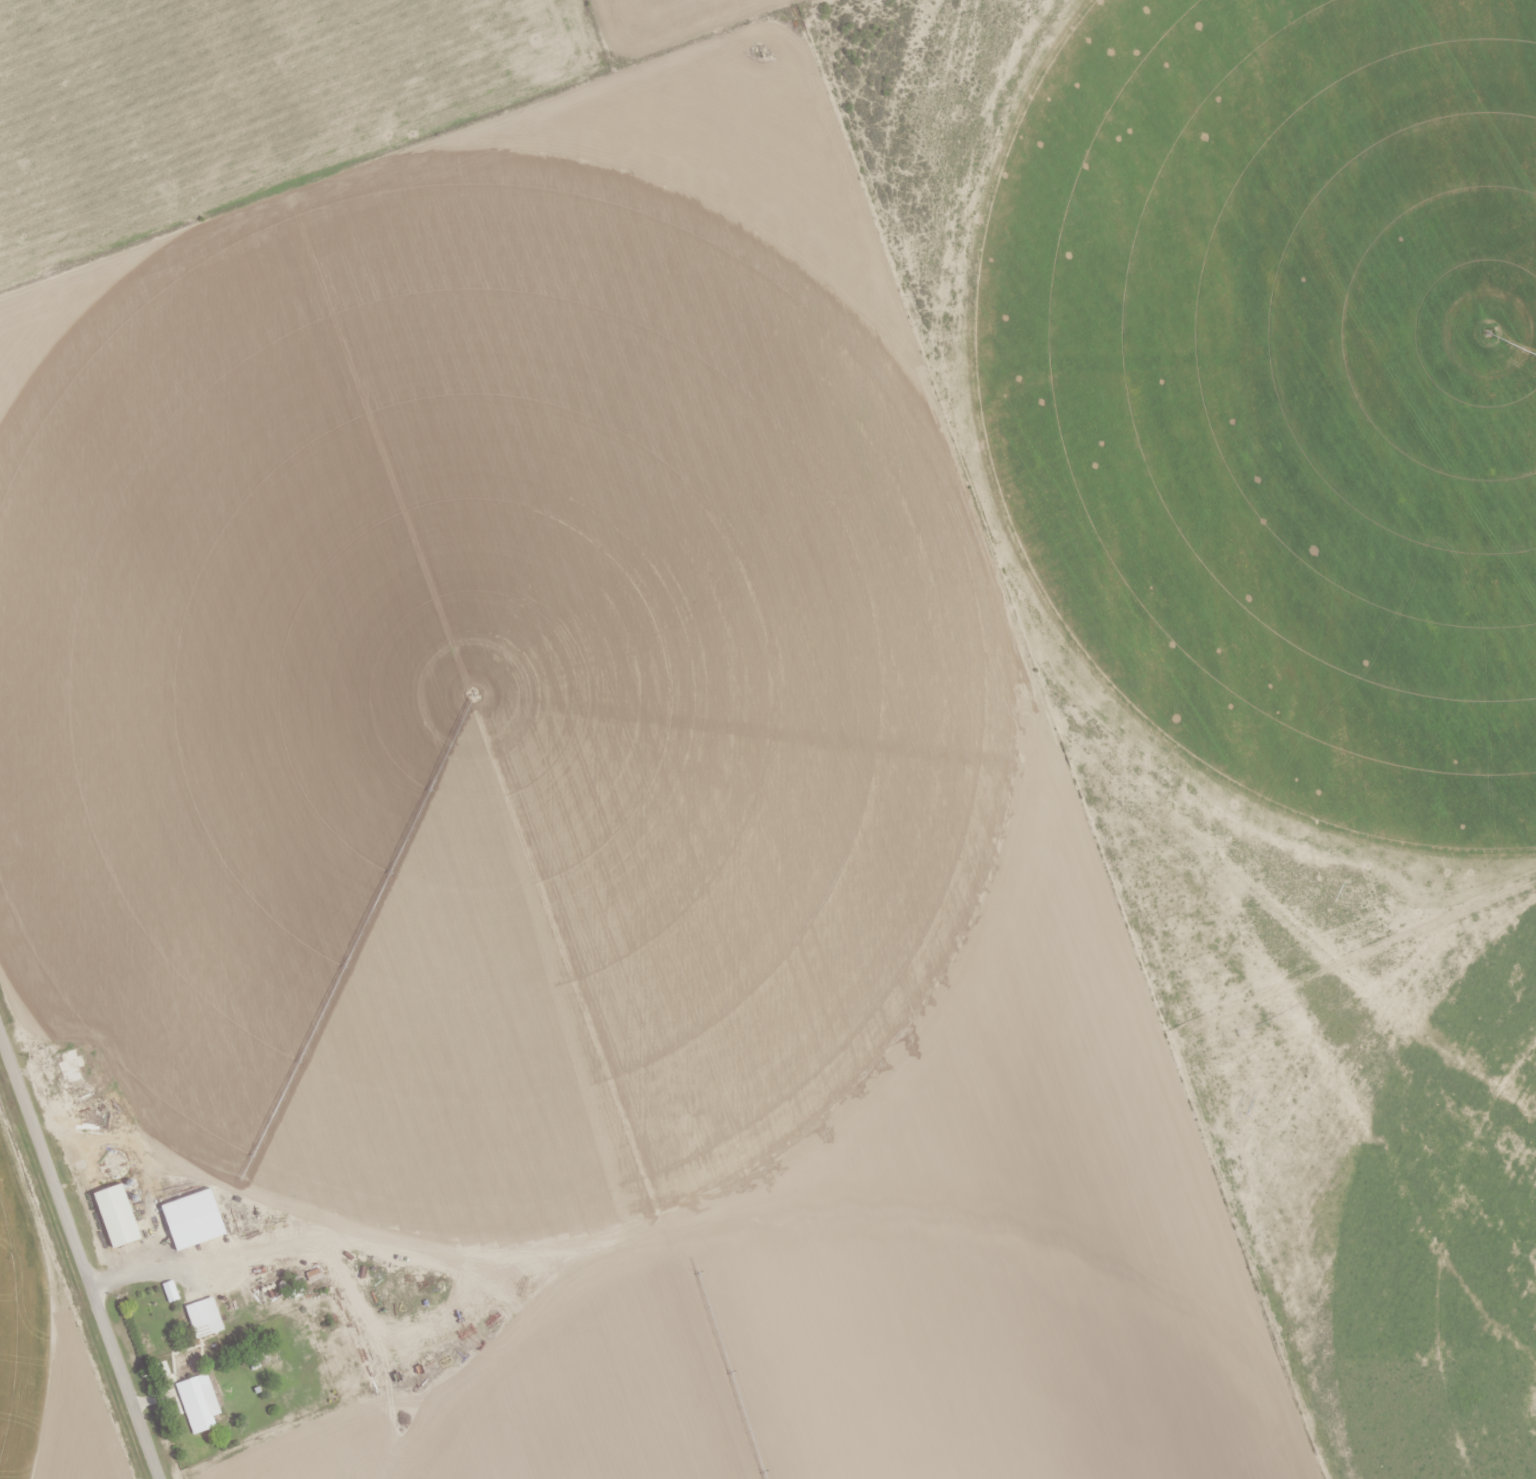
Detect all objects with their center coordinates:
building: (509, 1005)
building: (569, 1076)
building: (113, 1216)
building: (188, 1220)
road: (80, 1254)
building: (201, 1318)
building: (196, 1403)

